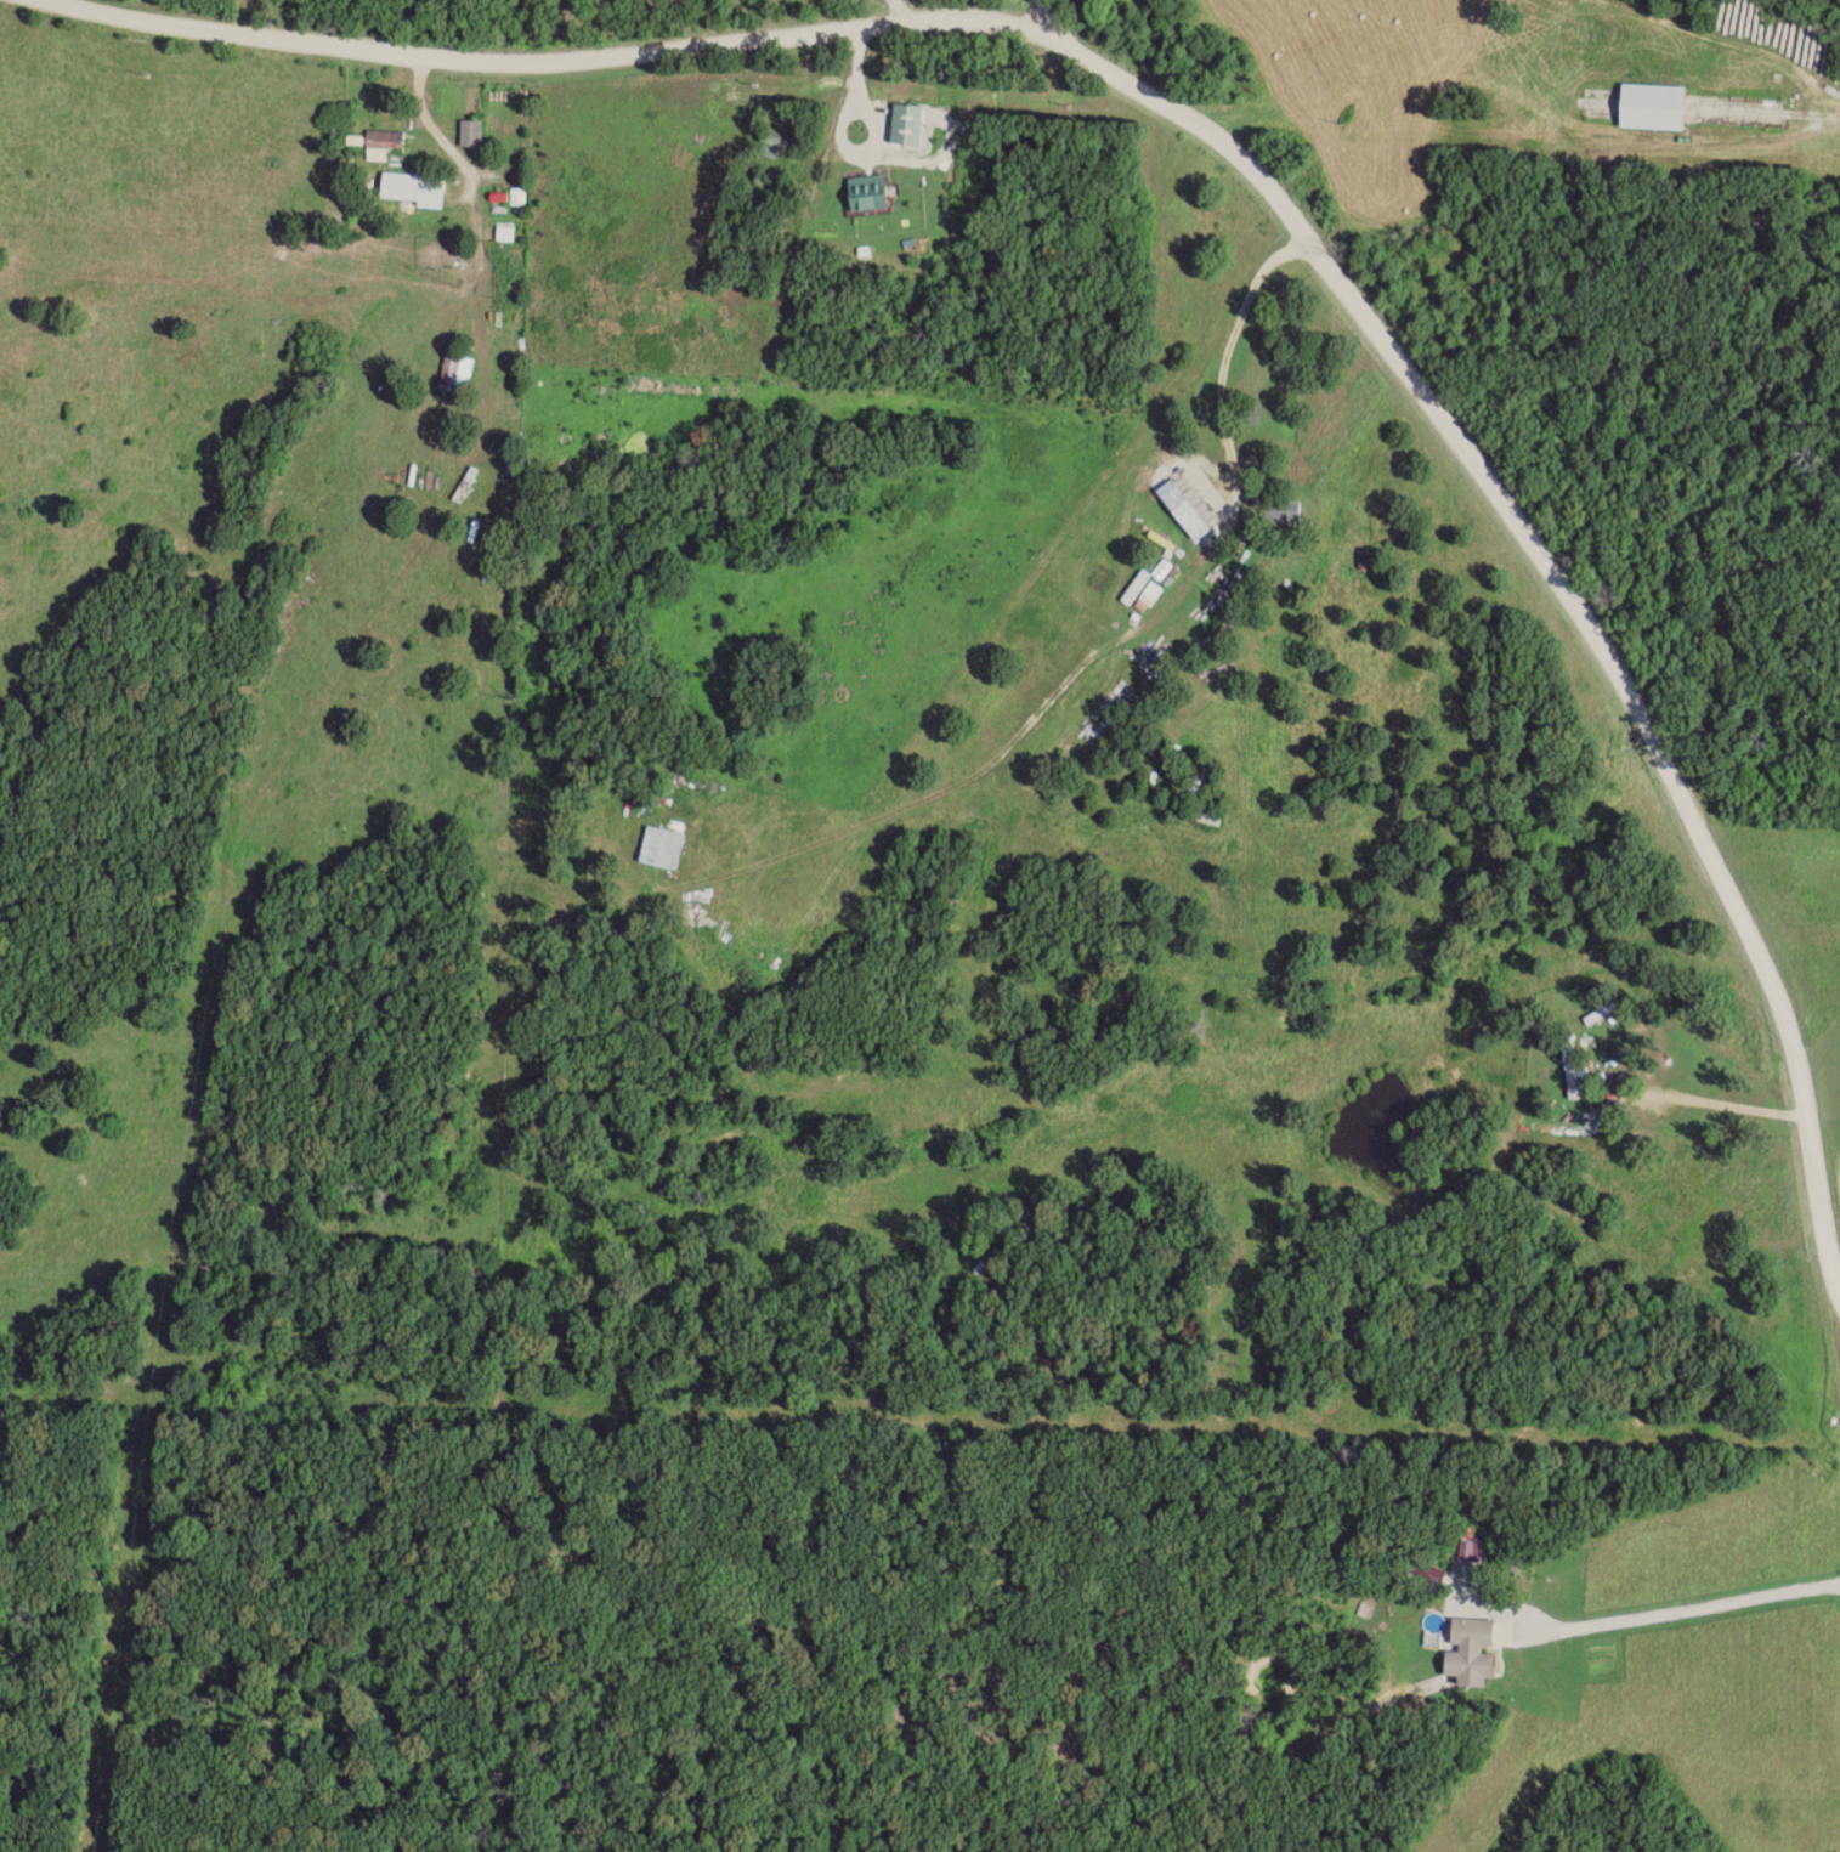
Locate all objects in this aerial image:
road: (1038, 16)
building: (1658, 107)
road: (1770, 114)
building: (911, 125)
building: (475, 134)
building: (390, 142)
road: (1262, 179)
building: (407, 180)
building: (873, 193)
building: (436, 198)
building: (508, 234)
building: (453, 370)
building: (1191, 502)
building: (1286, 511)
road: (898, 578)
building: (1317, 580)
road: (1025, 634)
road: (396, 659)
building: (1208, 819)
building: (669, 848)
building: (1600, 1015)
building: (1575, 1071)
building: (1474, 1551)
road: (1652, 1618)
building: (1476, 1649)

